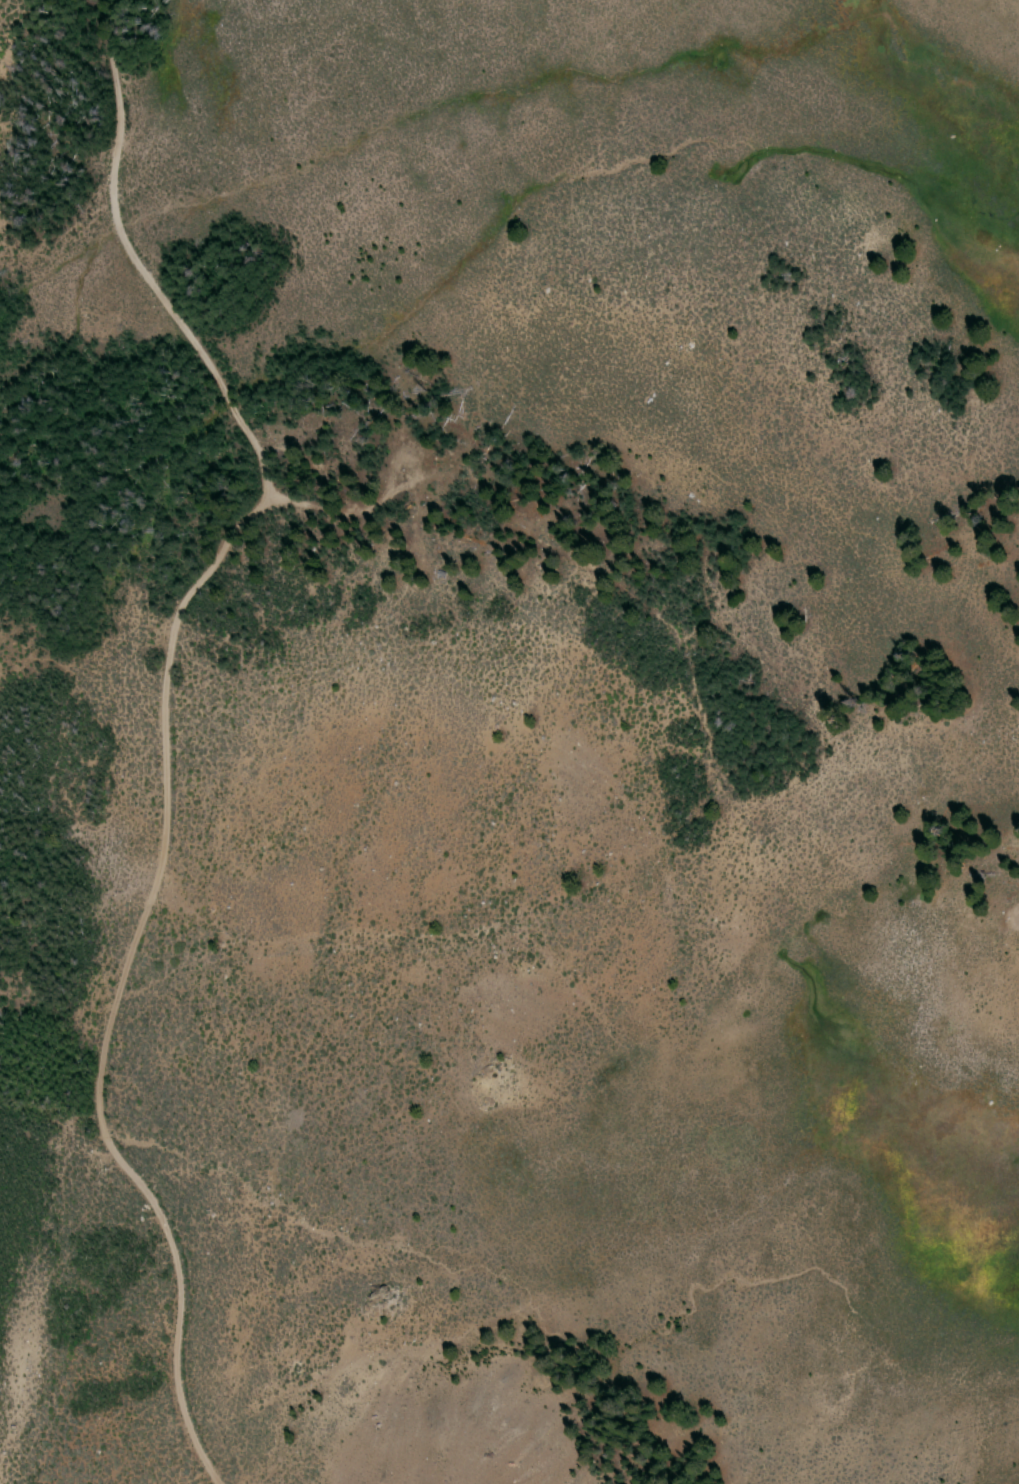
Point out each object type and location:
road: (348, 512)
road: (165, 725)

